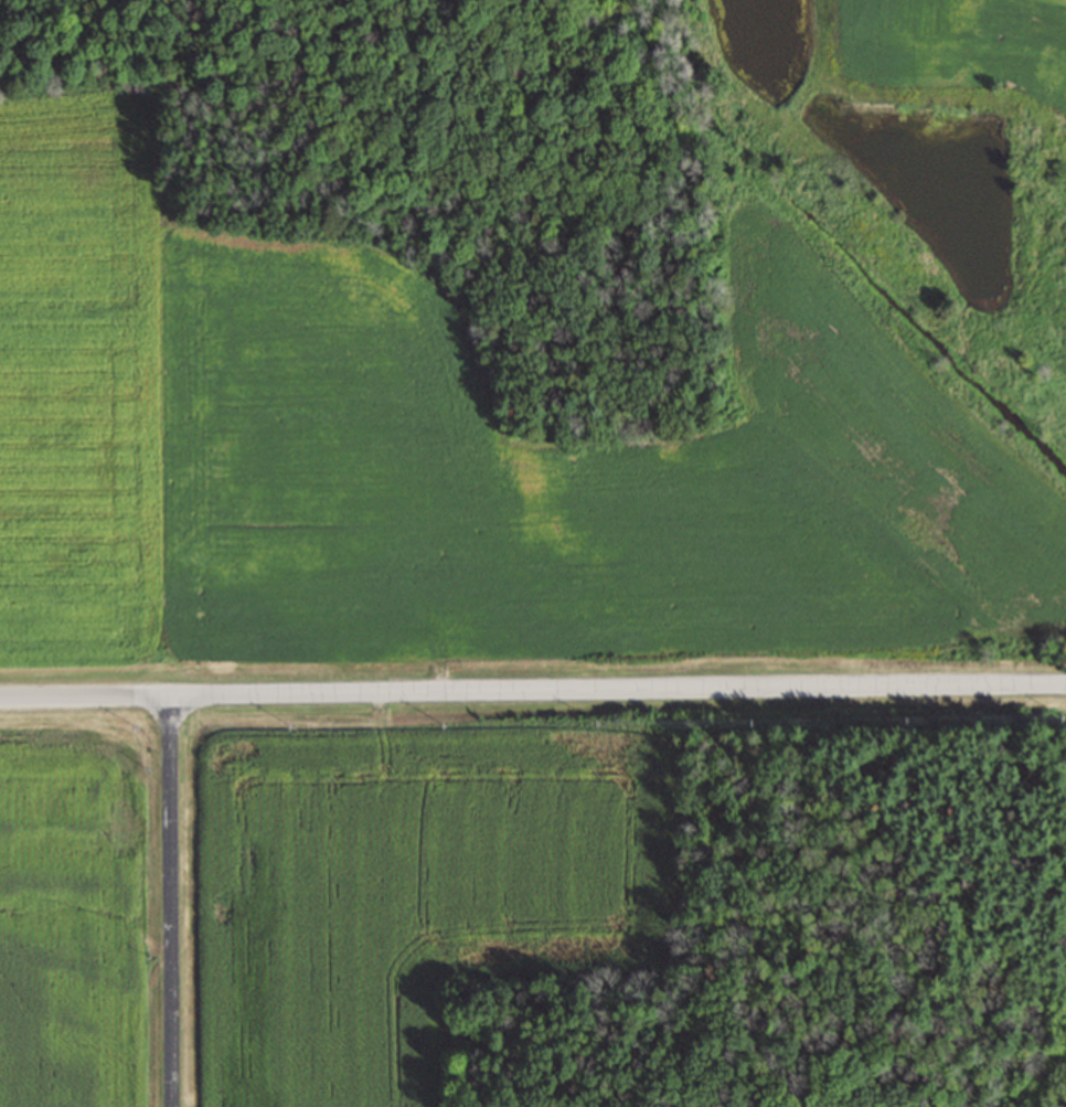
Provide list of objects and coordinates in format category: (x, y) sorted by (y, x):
road: (532, 689)
road: (170, 901)

